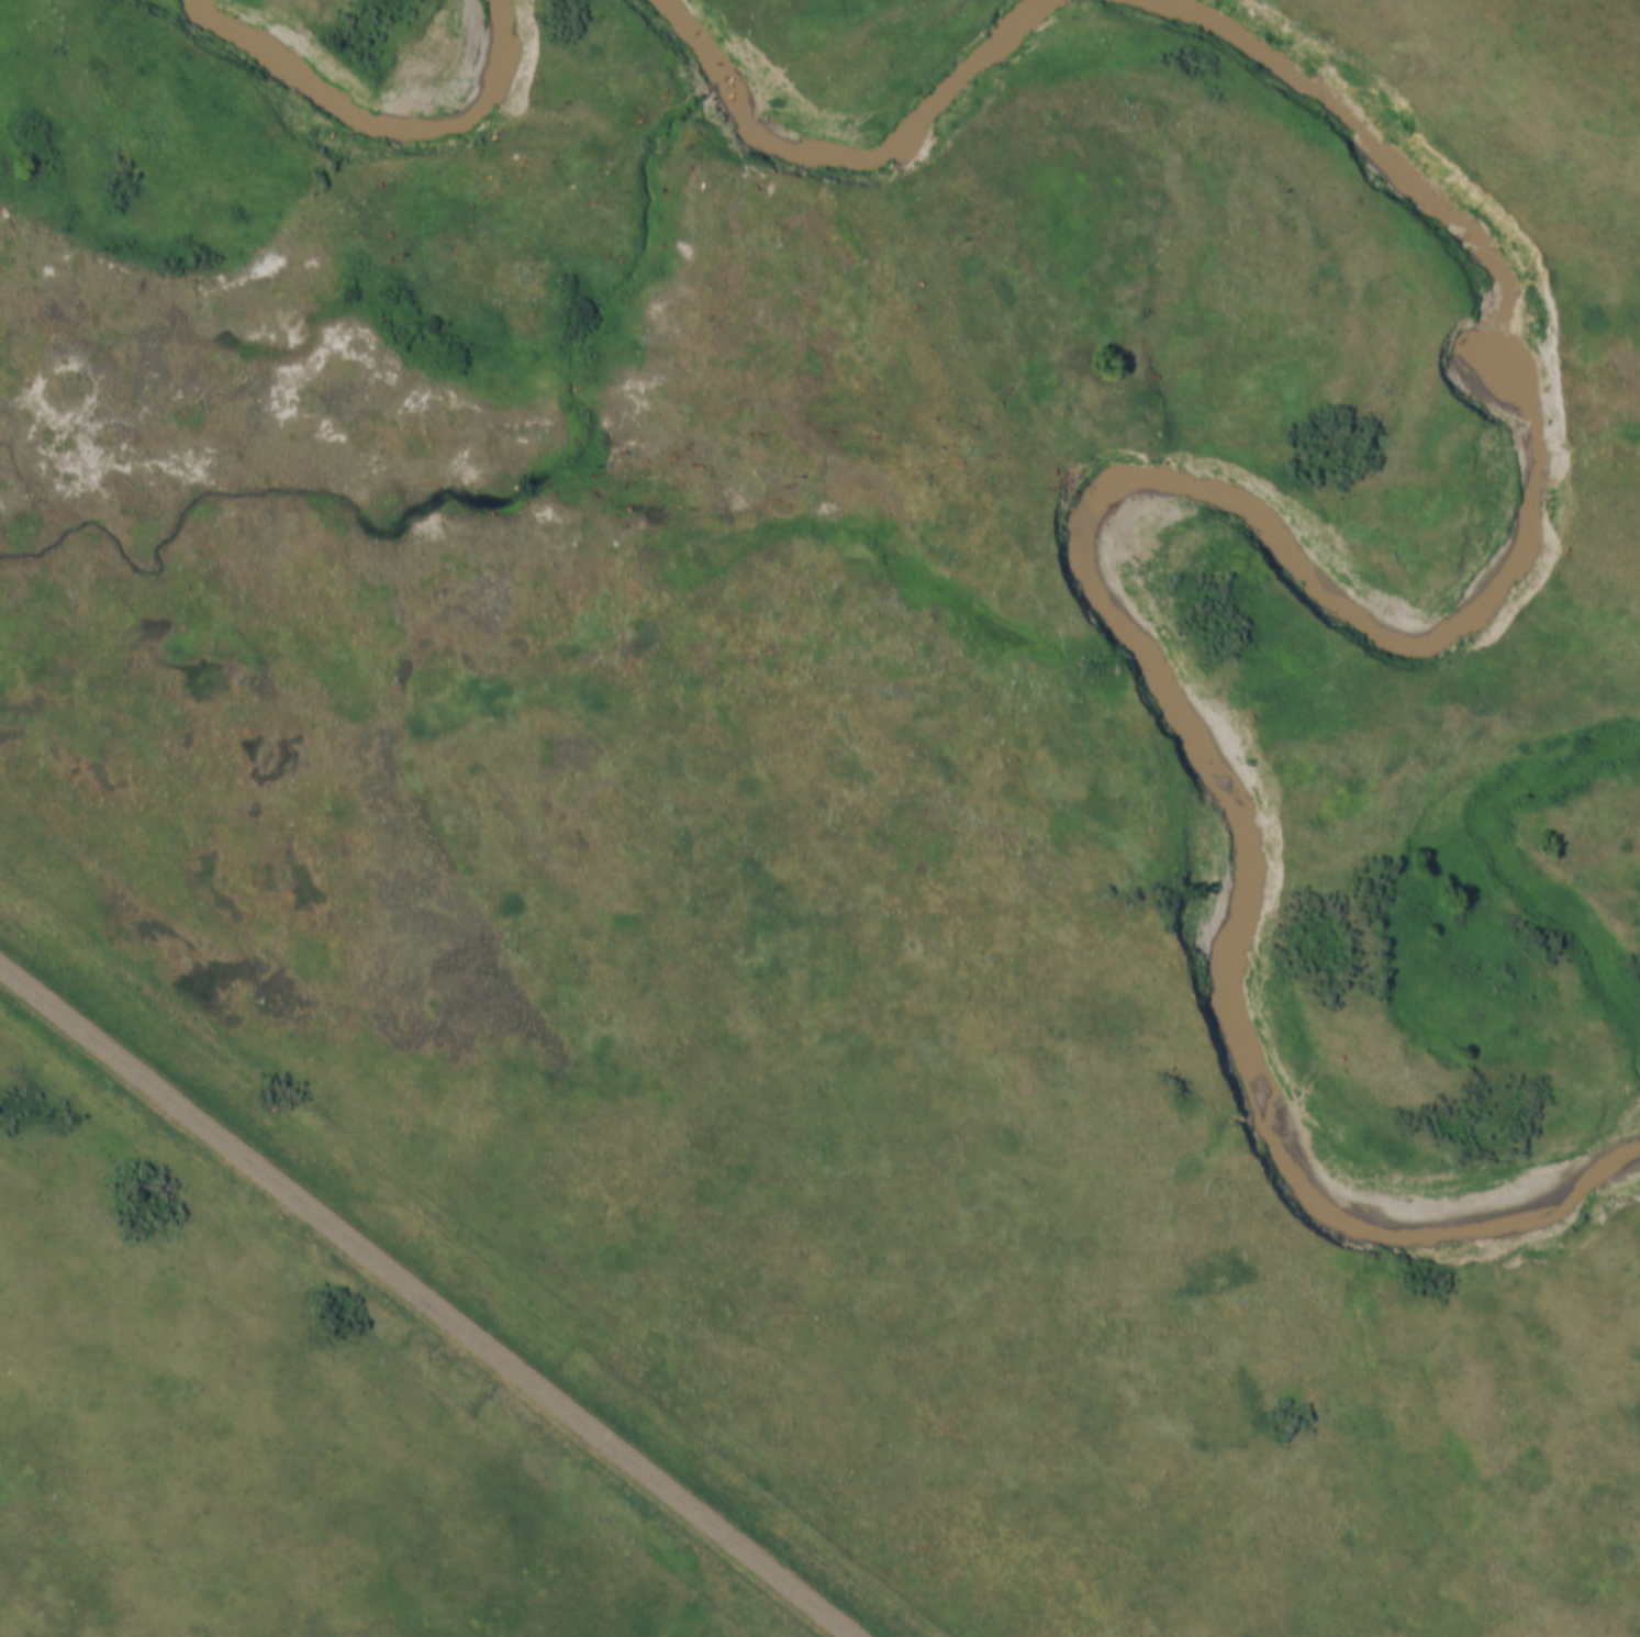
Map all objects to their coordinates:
road: (429, 1299)

